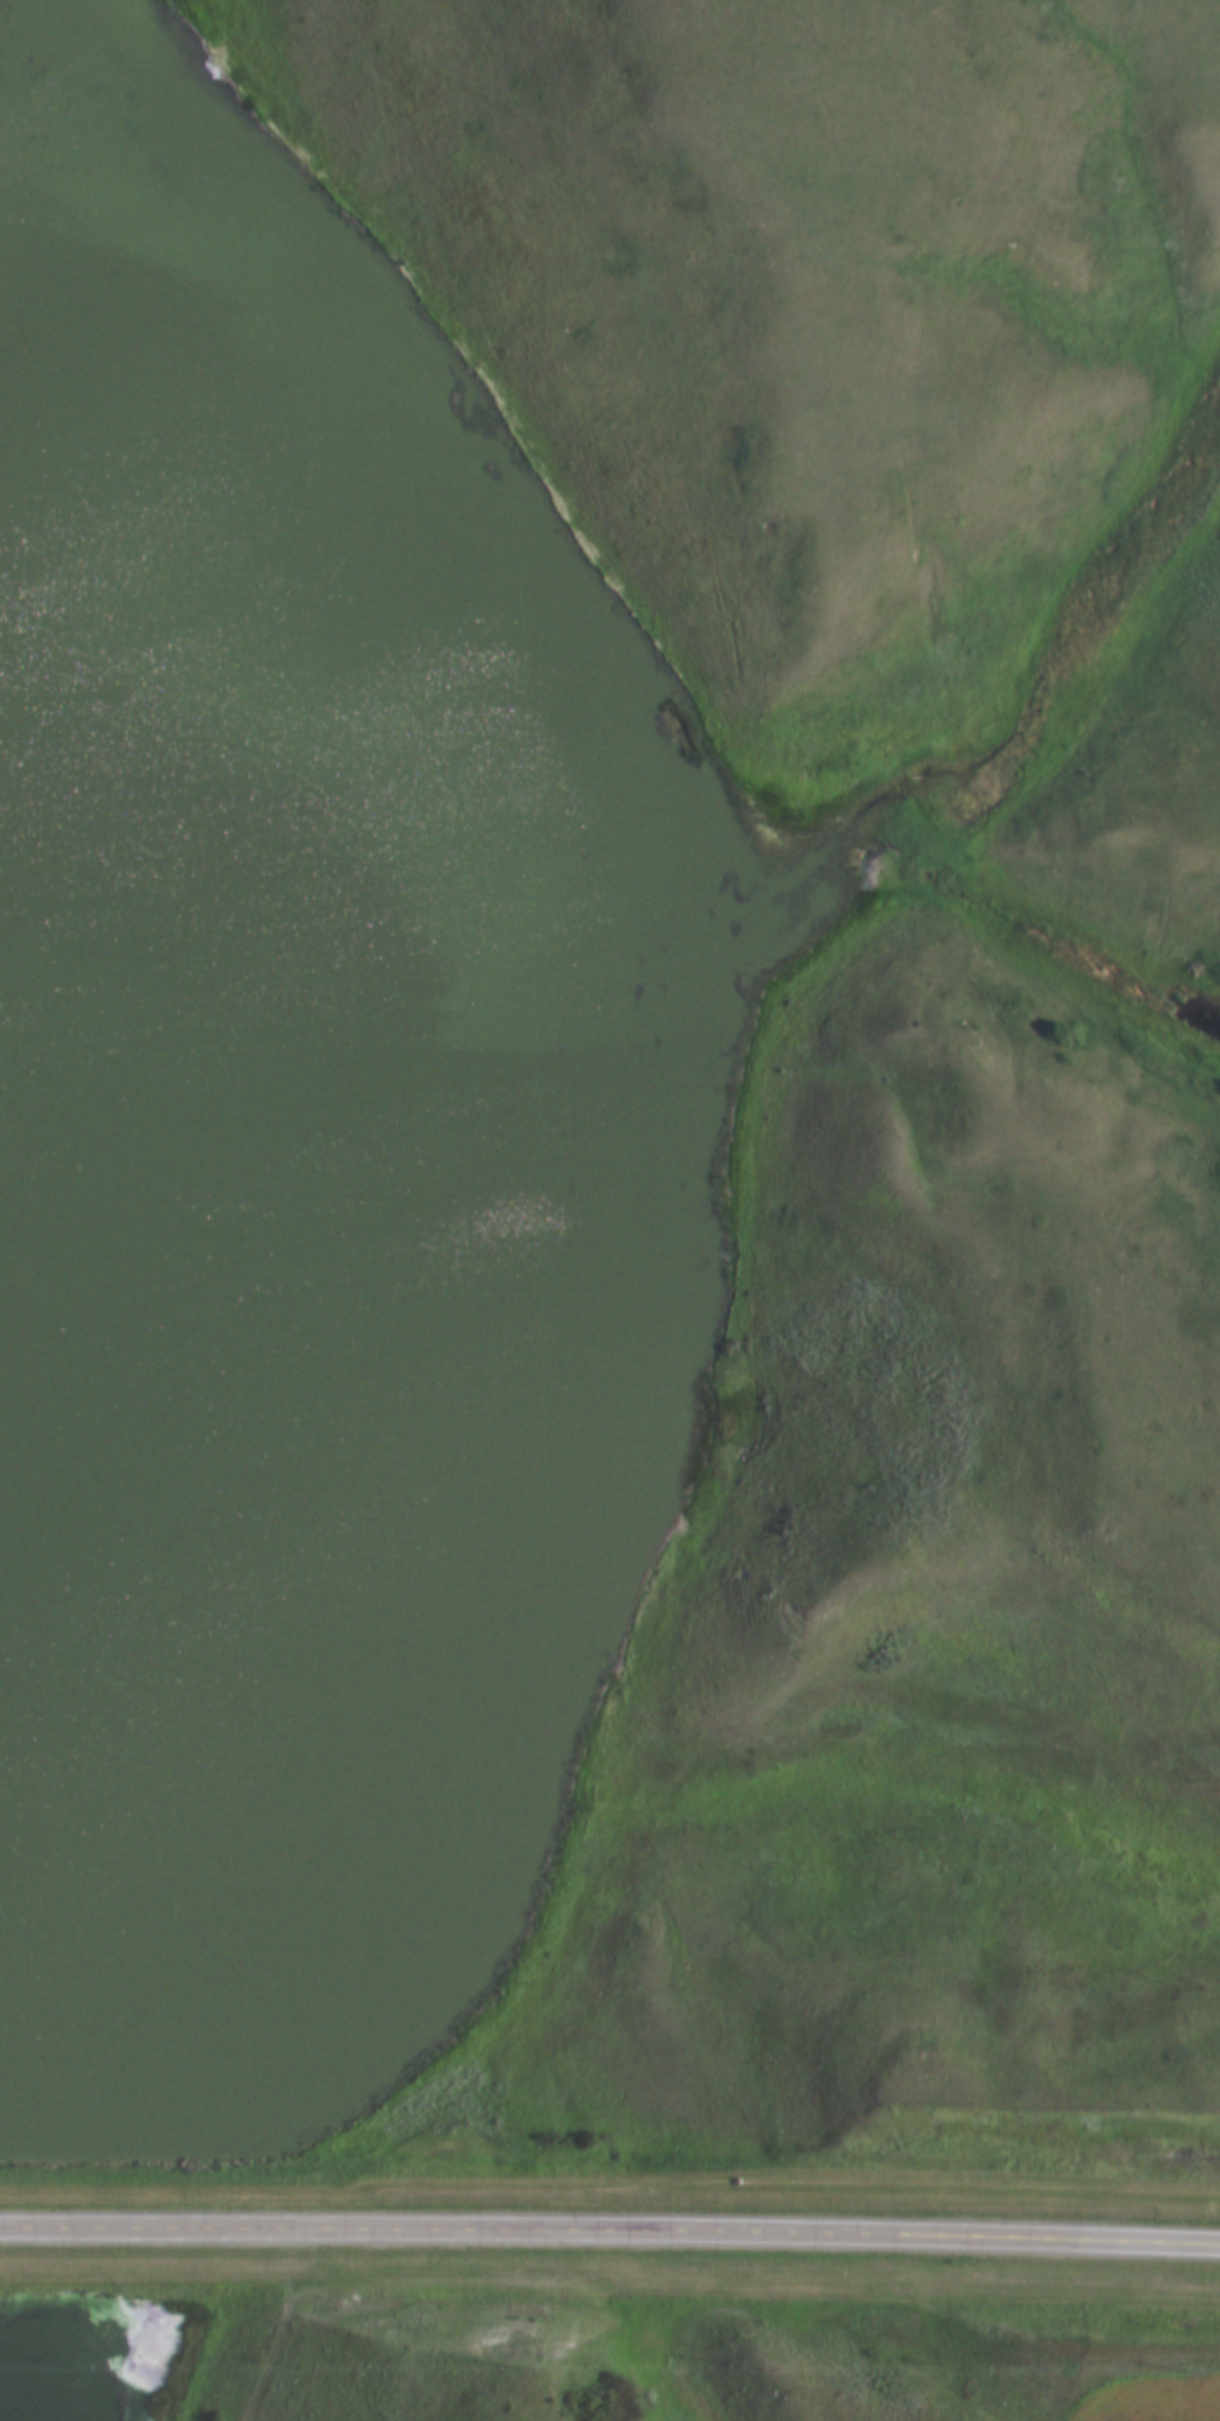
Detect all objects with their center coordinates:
road: (609, 2232)

